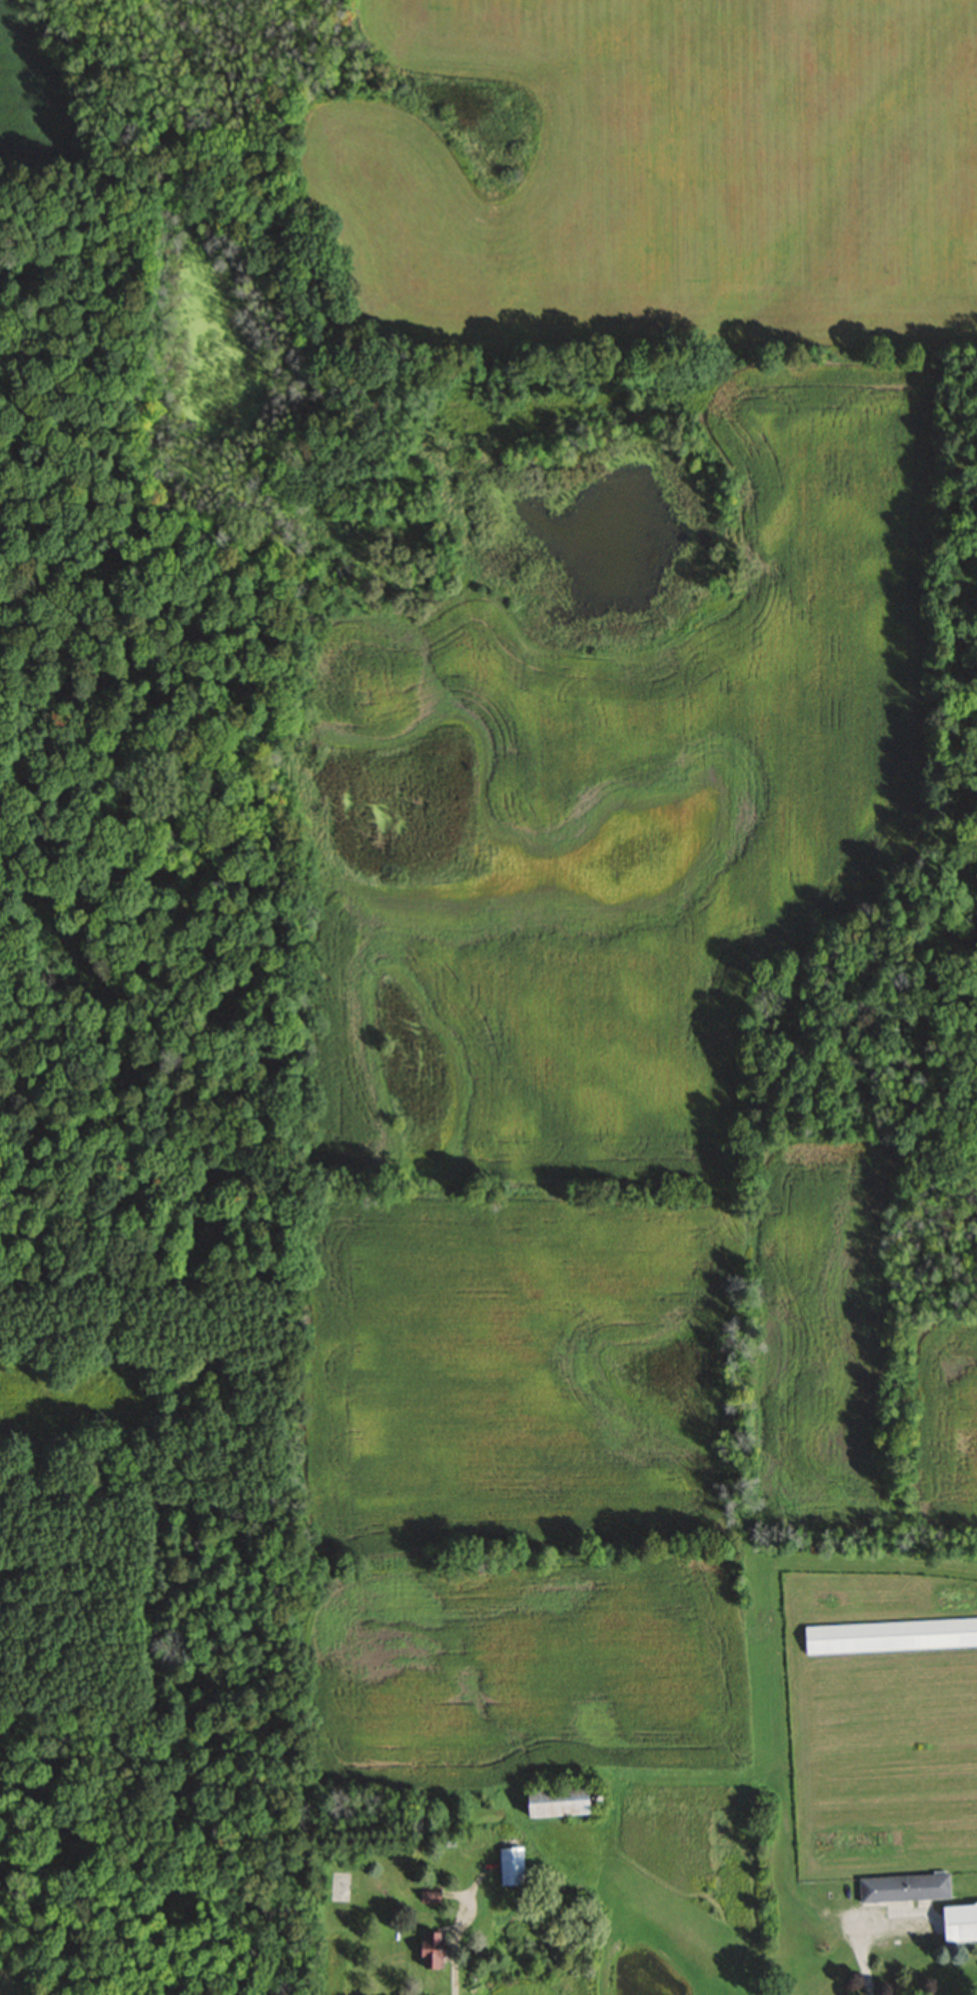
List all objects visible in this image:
building: (889, 1635)
building: (552, 1801)
building: (509, 1866)
building: (902, 1887)
building: (427, 1895)
building: (958, 1922)
building: (428, 1950)

